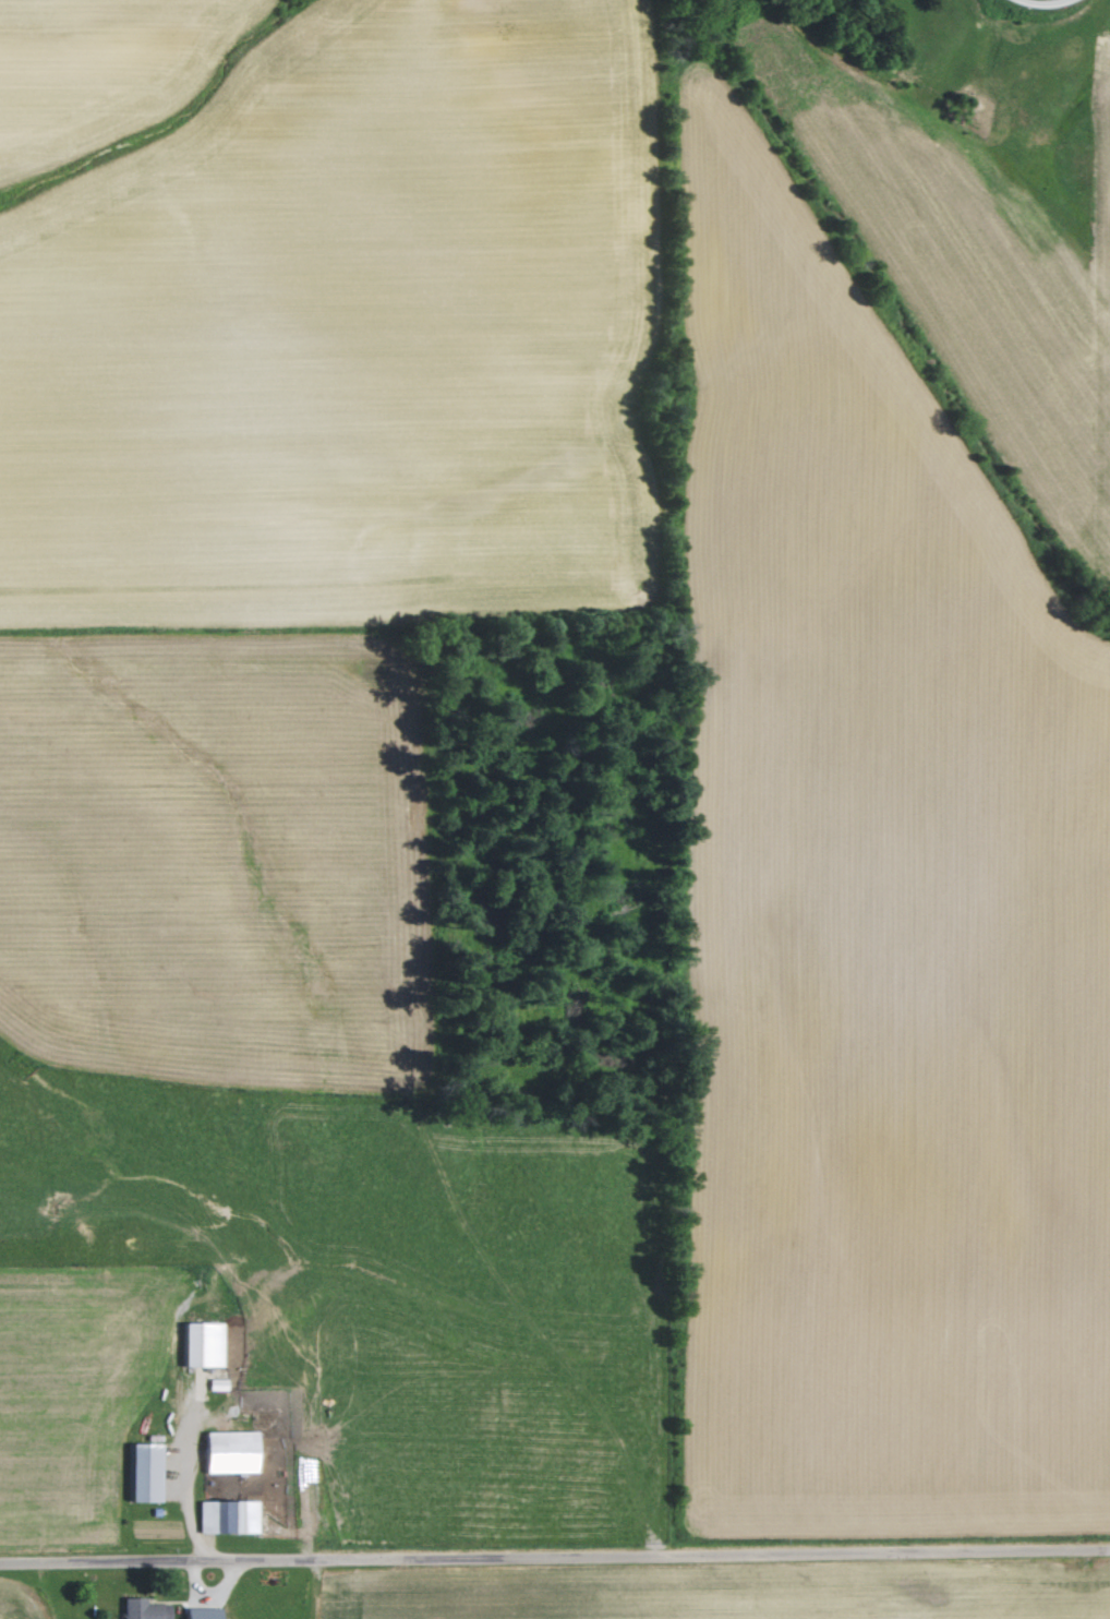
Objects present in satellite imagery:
road: (1049, 11)
road: (554, 1561)

